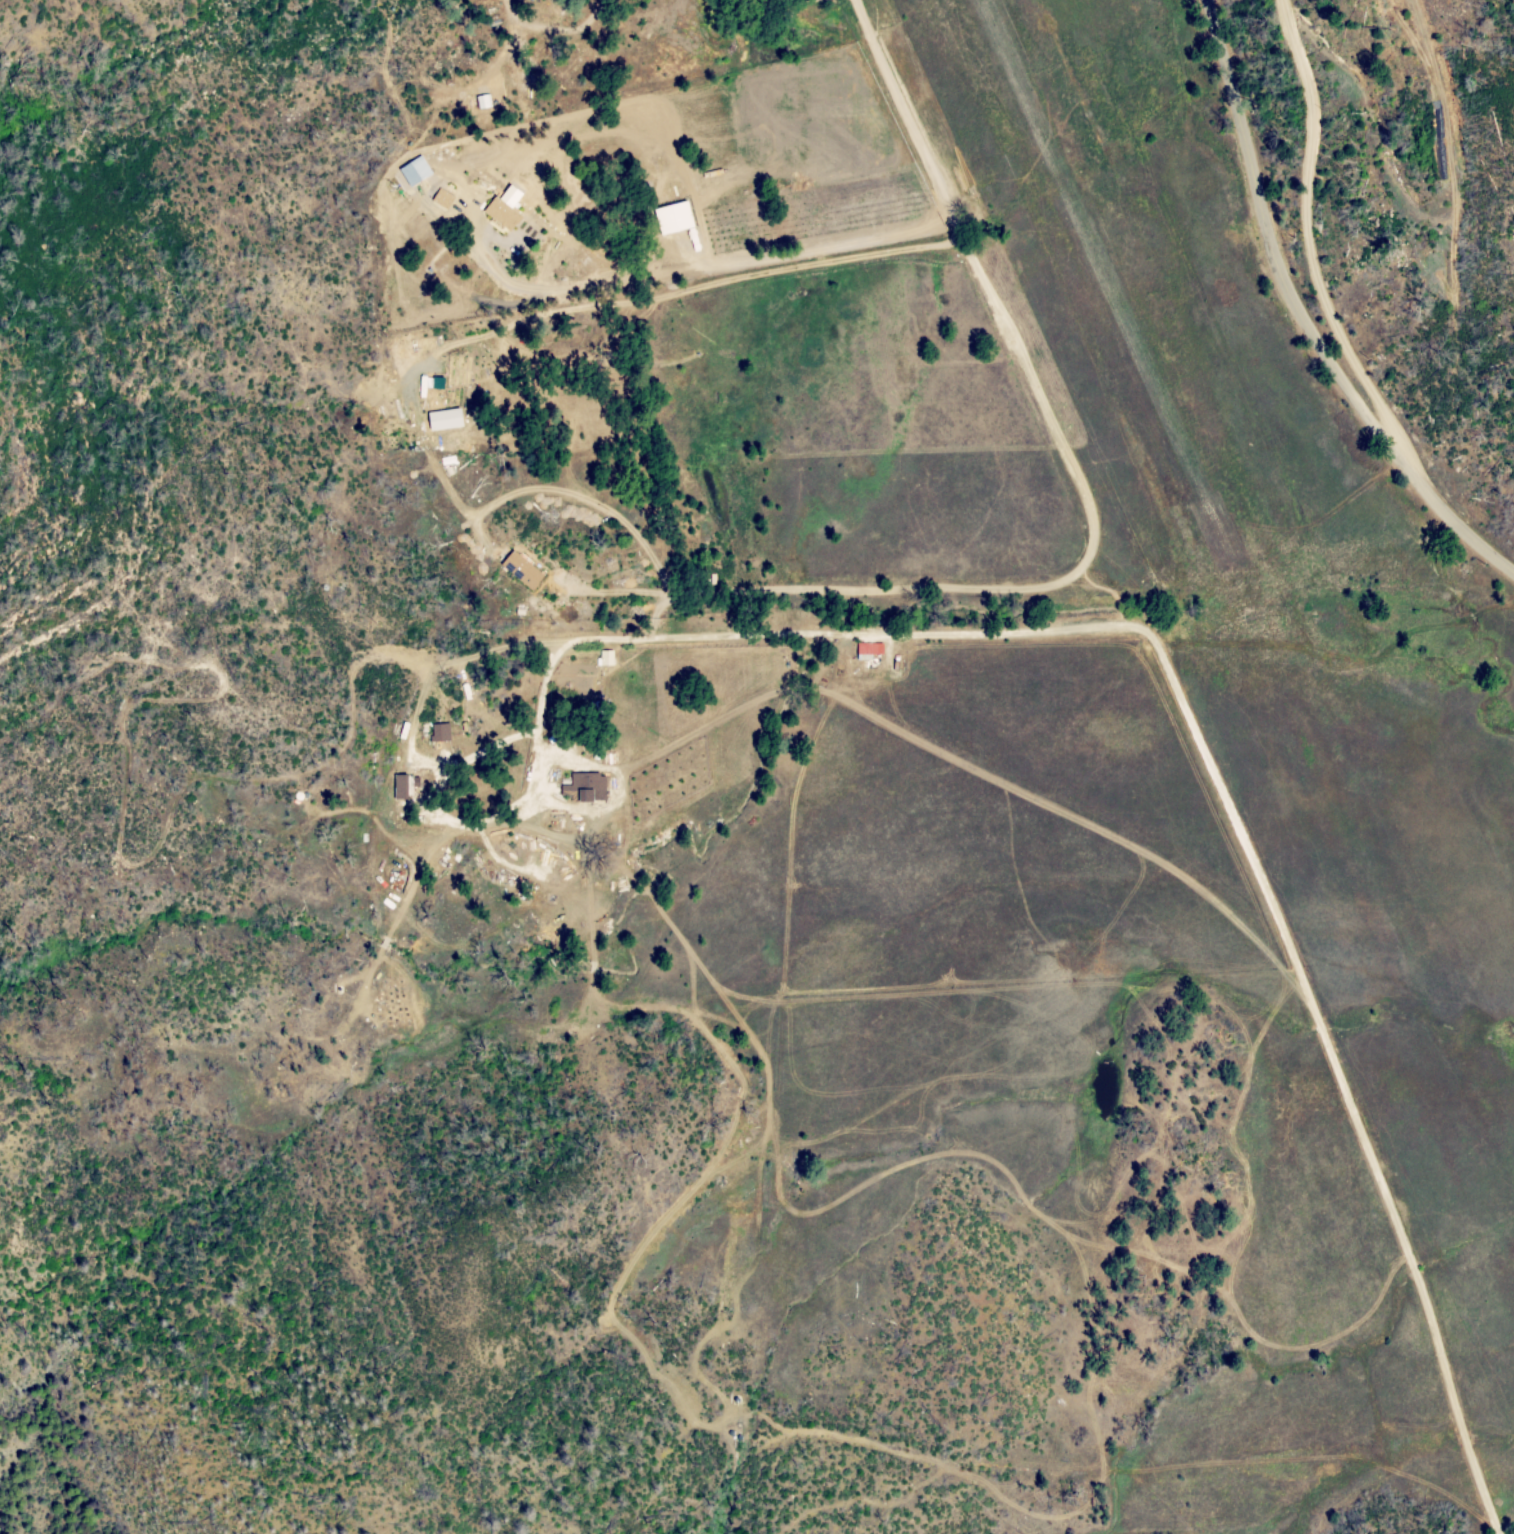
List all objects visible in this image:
building: (414, 171)
building: (504, 208)
building: (673, 218)
road: (1312, 261)
road: (699, 269)
airport runway: (1107, 278)
road: (1303, 318)
building: (521, 570)
road: (1017, 589)
building: (868, 650)
building: (605, 658)
building: (440, 732)
building: (405, 786)
road: (1264, 892)

